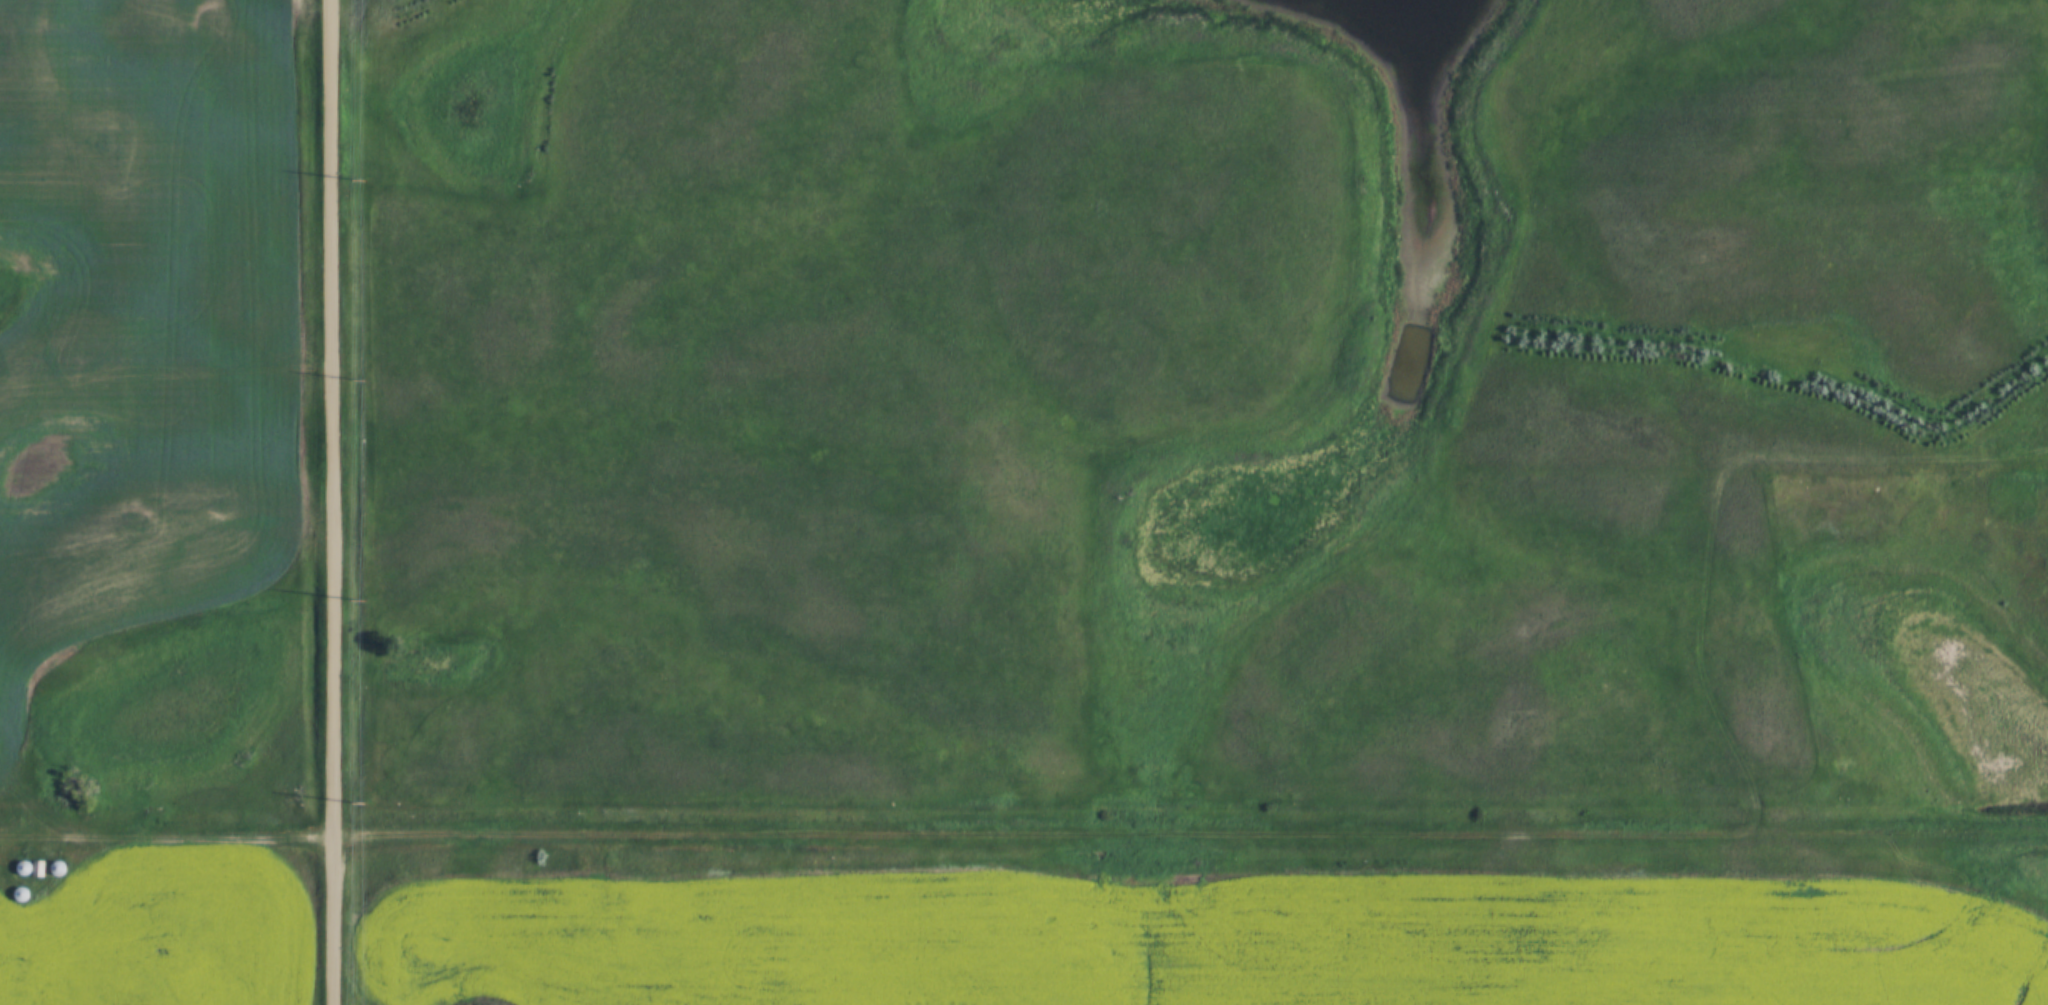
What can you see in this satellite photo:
road: (334, 502)
road: (1023, 836)

